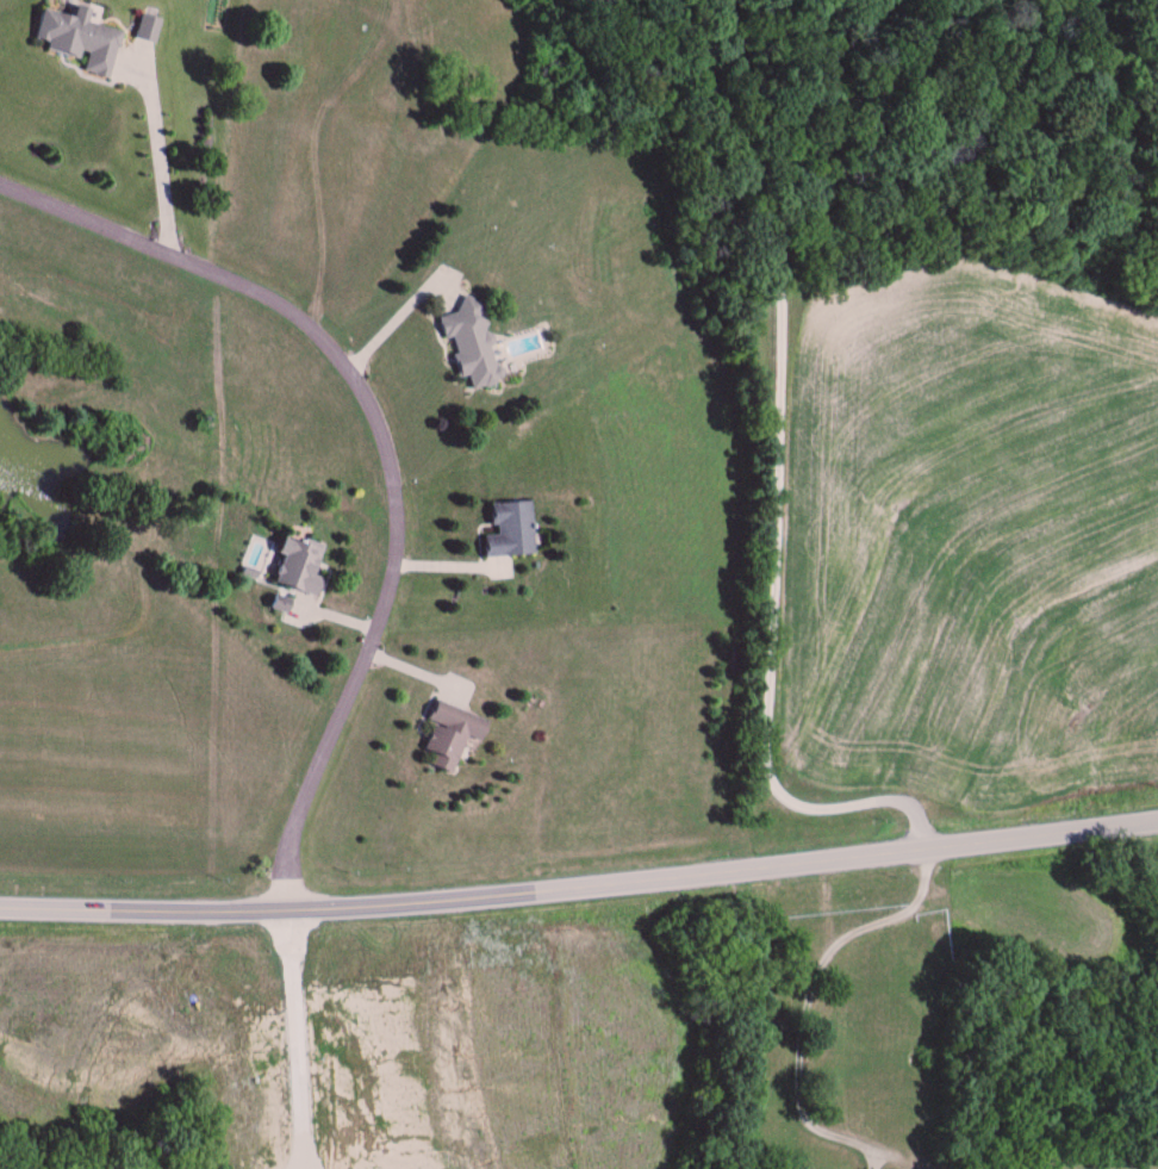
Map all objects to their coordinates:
building: (80, 38)
road: (160, 155)
building: (472, 344)
road: (392, 435)
road: (776, 474)
building: (513, 530)
building: (301, 567)
building: (453, 736)
road: (581, 881)
road: (809, 993)

